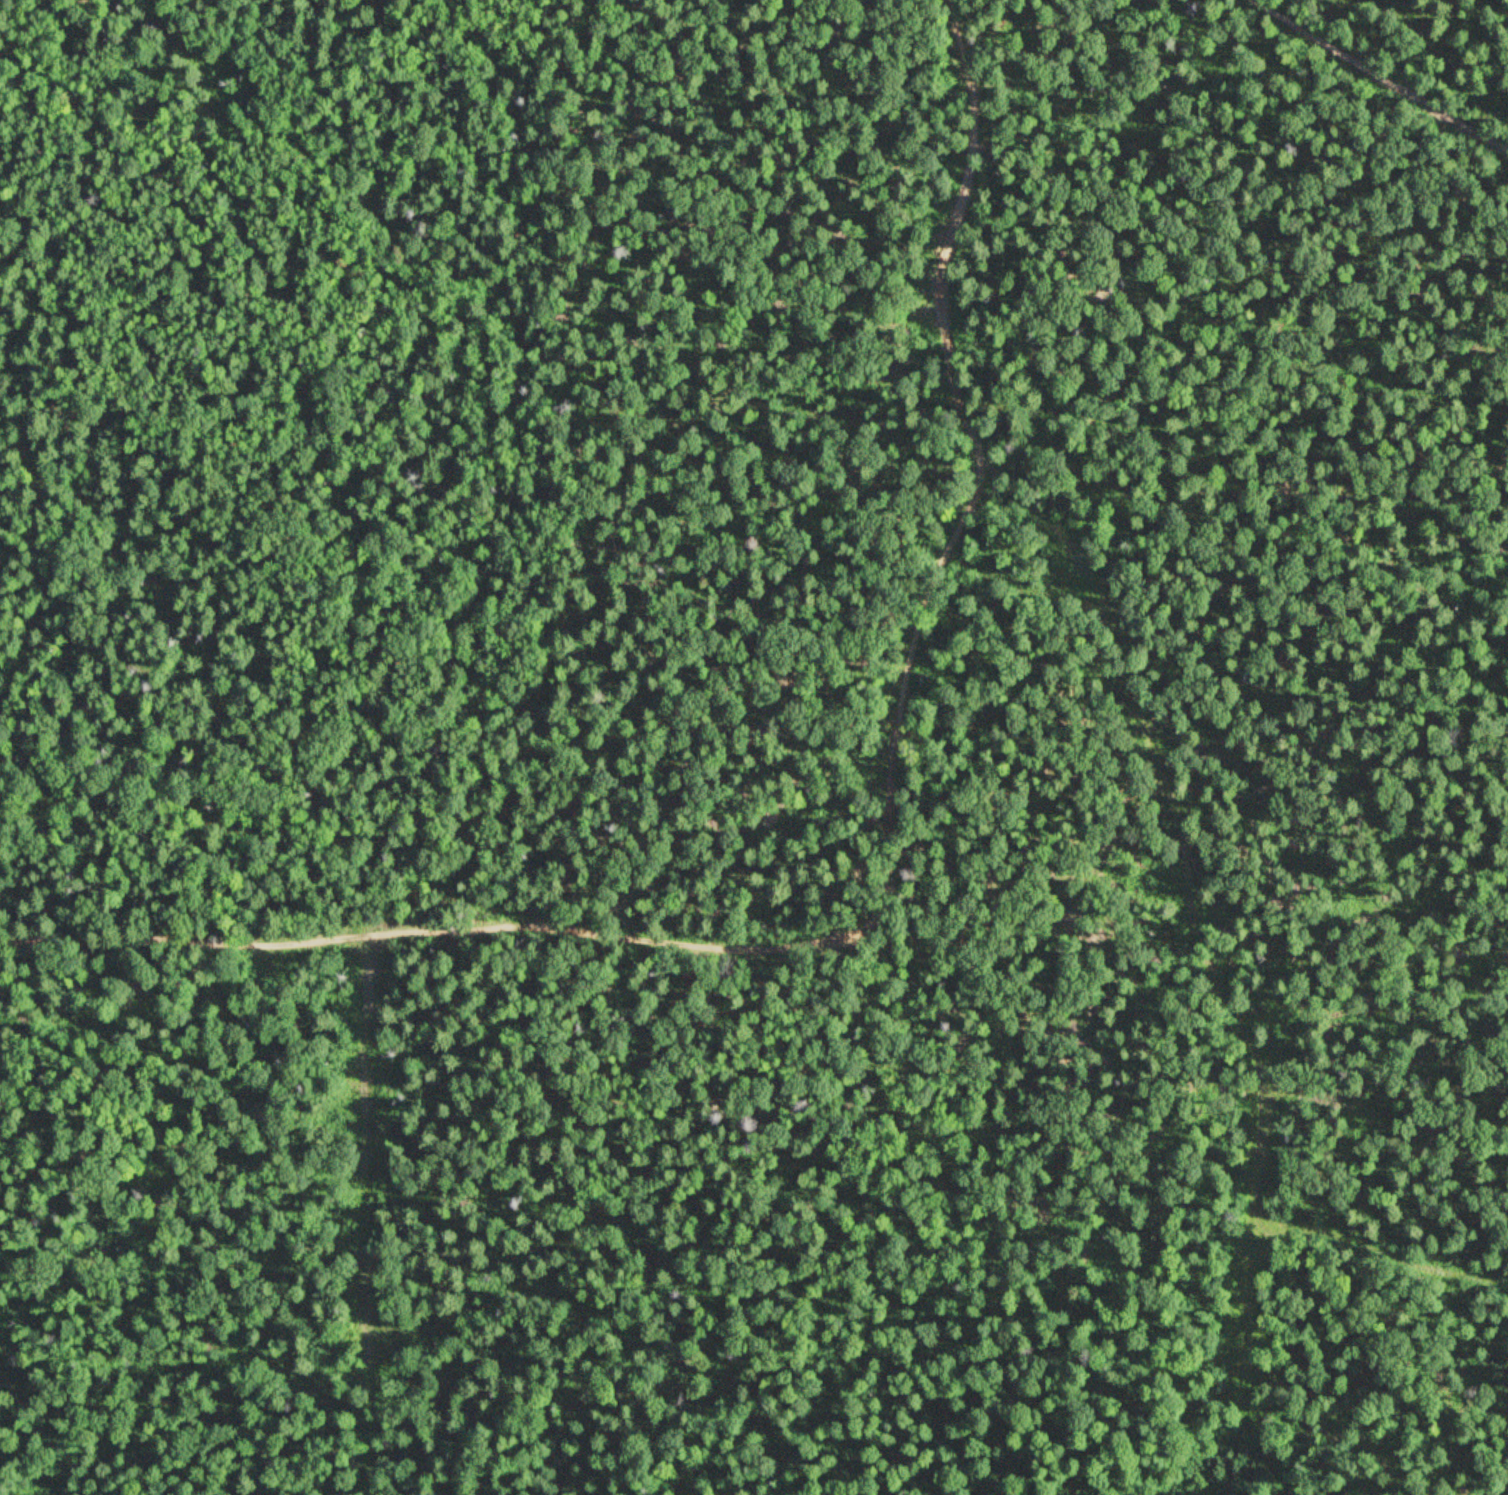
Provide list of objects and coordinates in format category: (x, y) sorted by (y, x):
road: (3, 0)
road: (1433, 55)
road: (426, 880)

